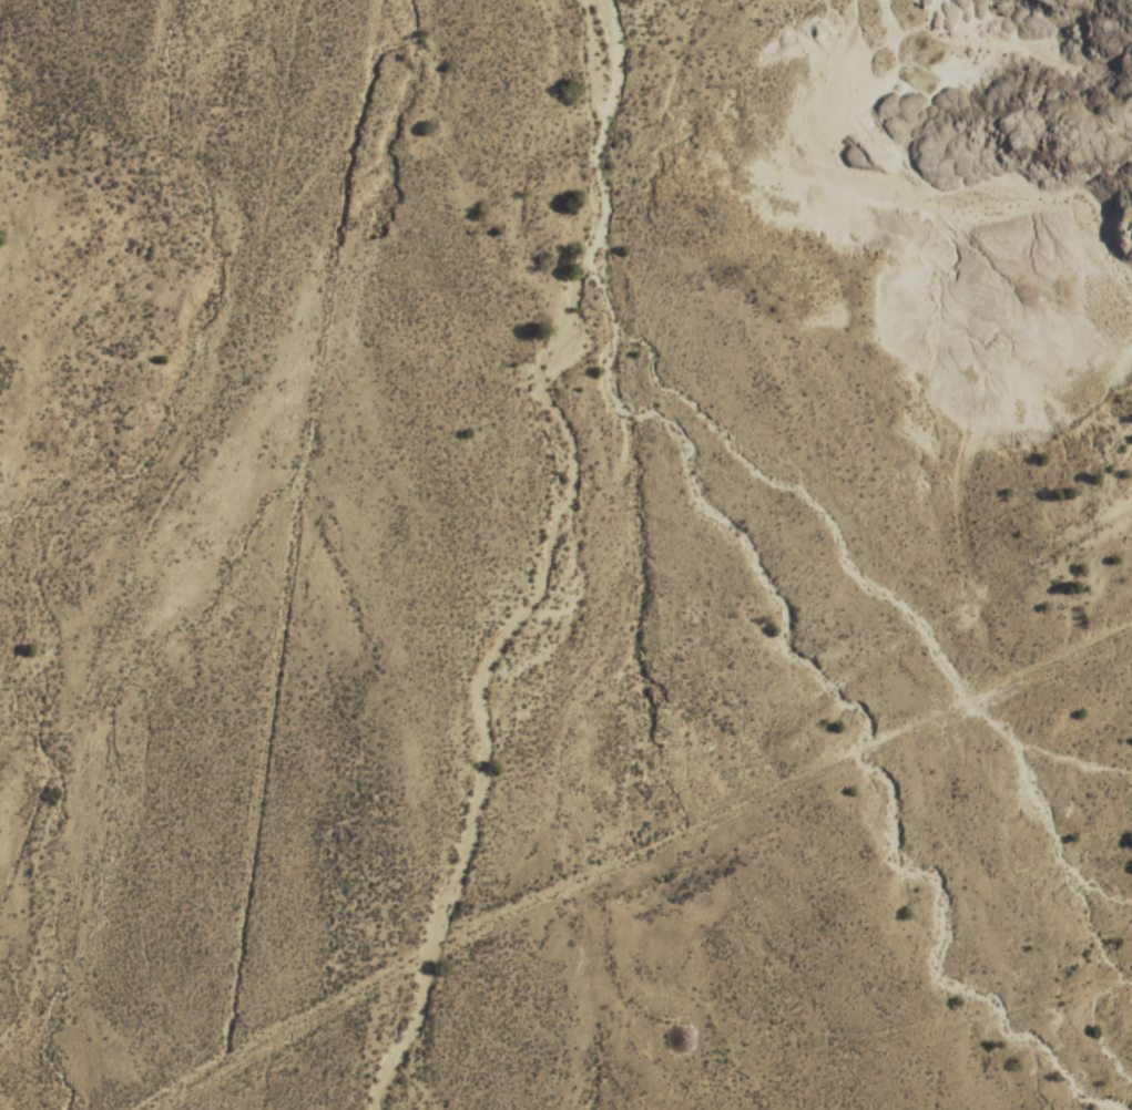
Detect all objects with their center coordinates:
road: (652, 853)
road: (157, 1101)

